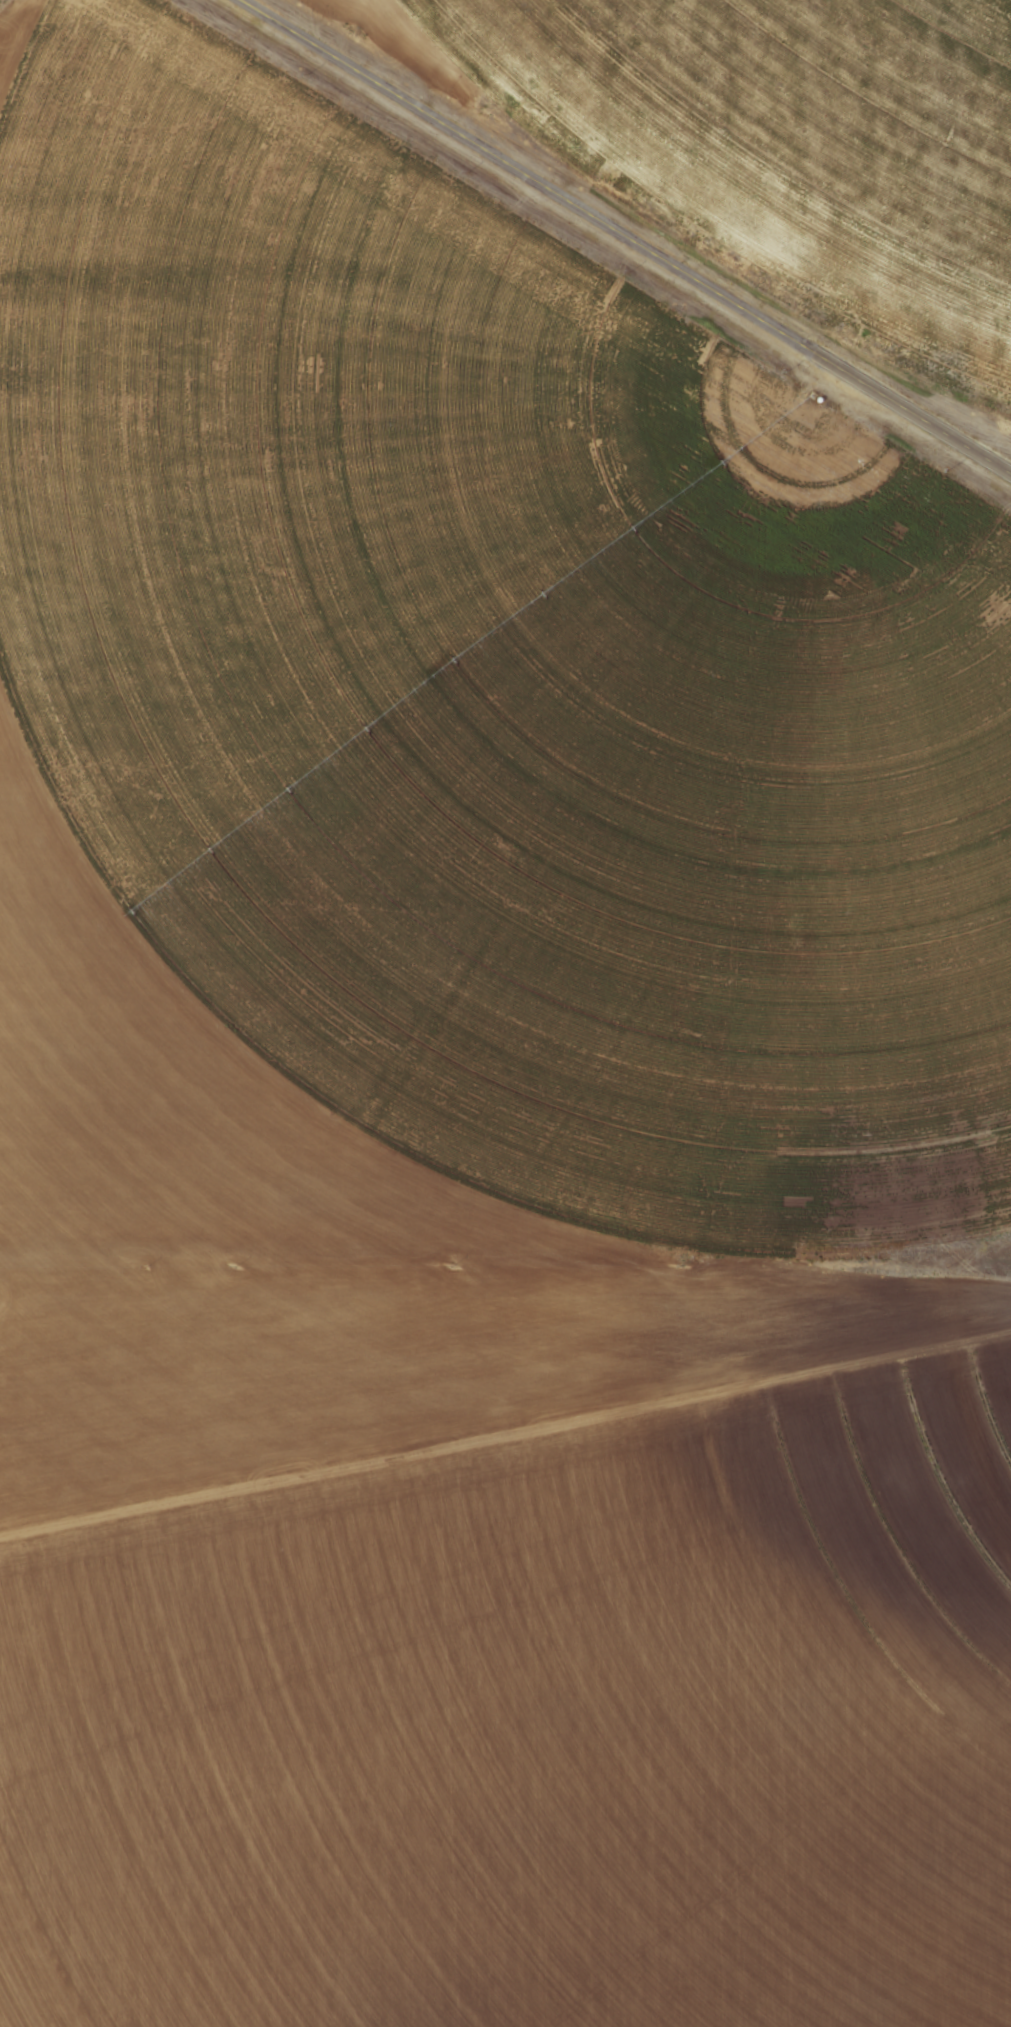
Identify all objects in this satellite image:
road: (543, 183)
road: (923, 414)
road: (920, 1010)
road: (453, 1239)

